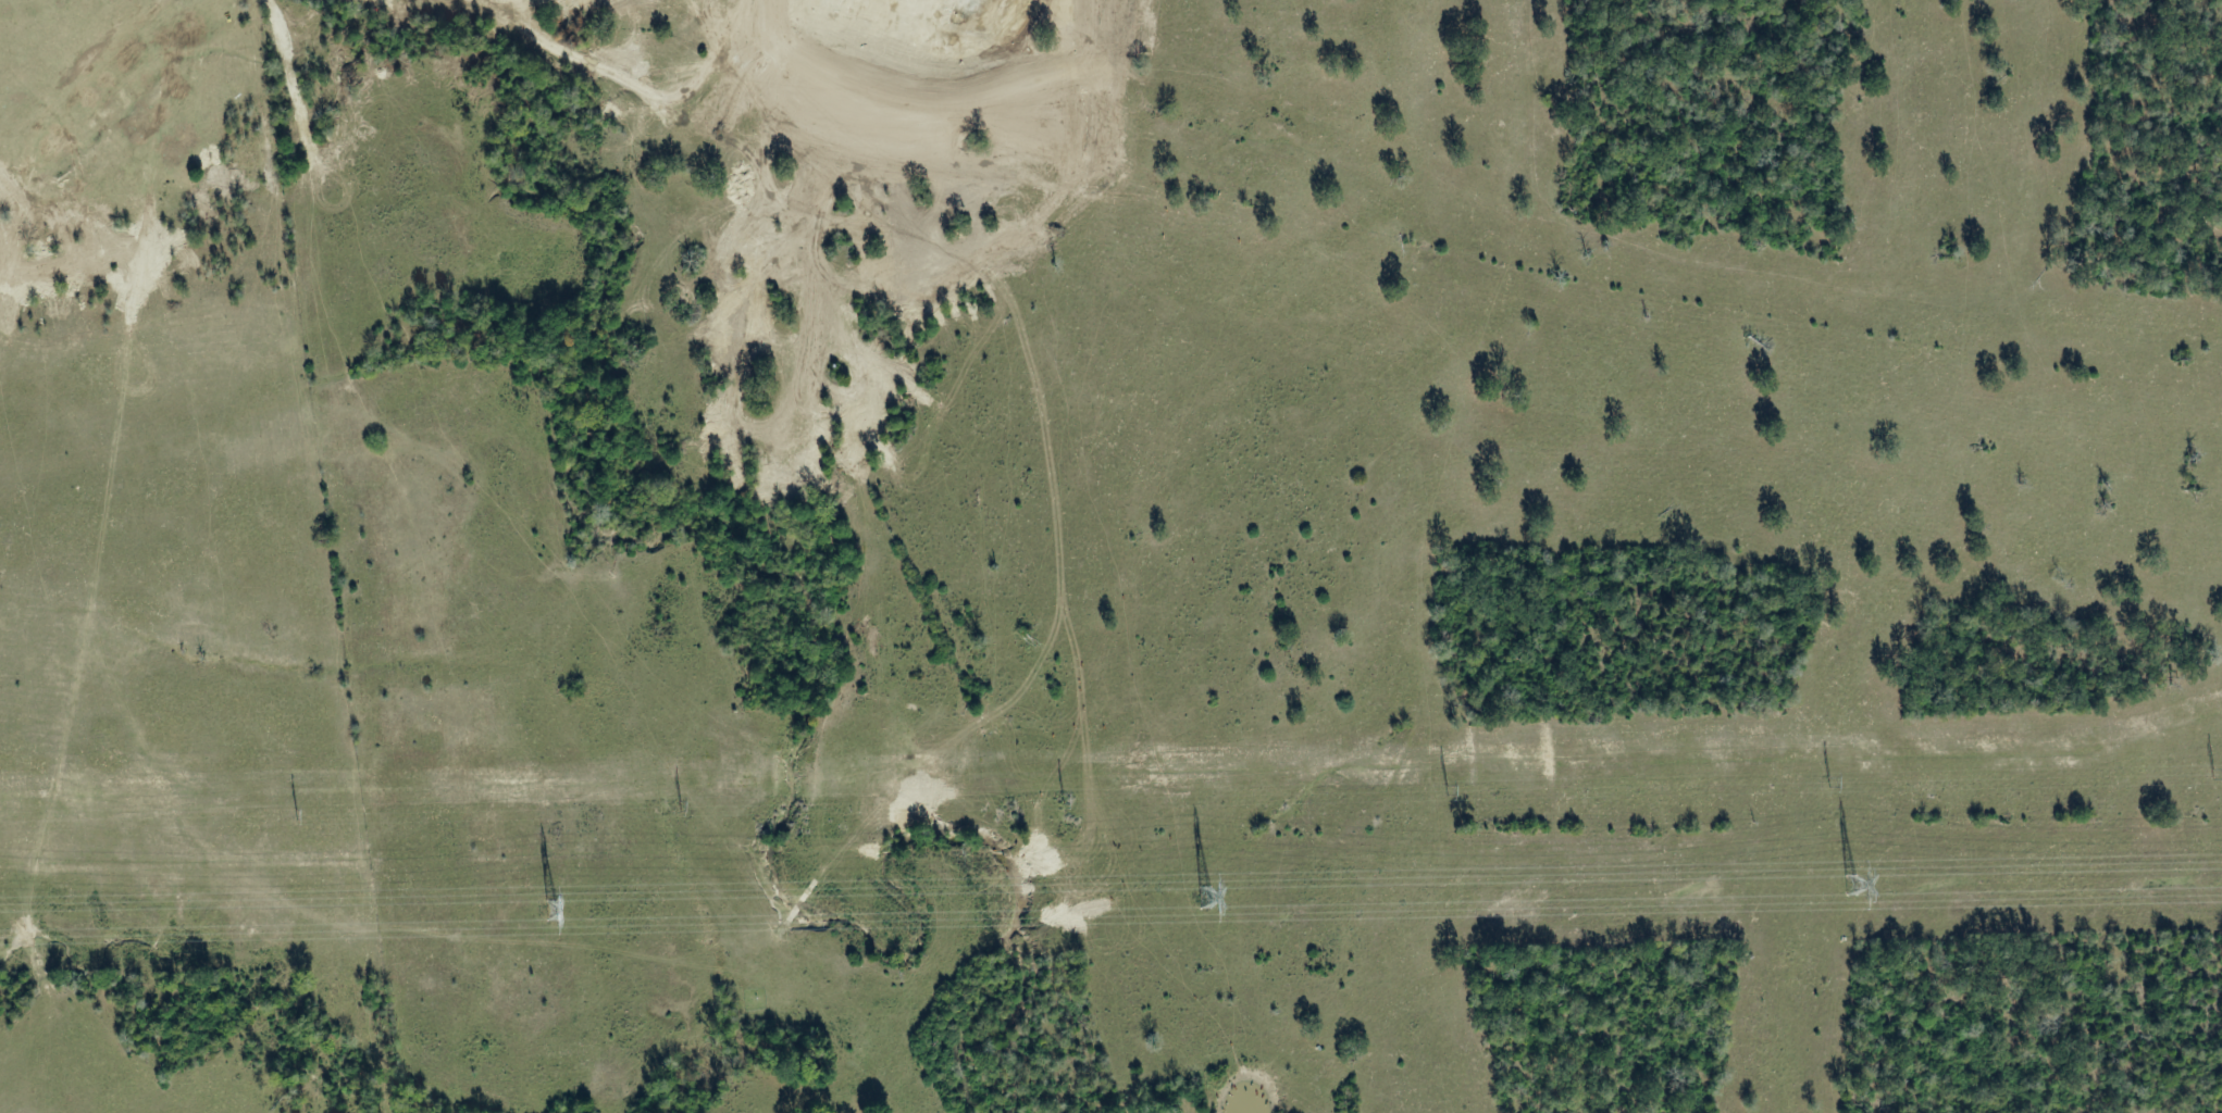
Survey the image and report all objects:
power tower: (1838, 784)
power tower: (1456, 791)
power tower: (1069, 800)
power tower: (686, 808)
power tower: (301, 817)
power tower: (1851, 885)
power tower: (1207, 898)
power tower: (553, 911)

